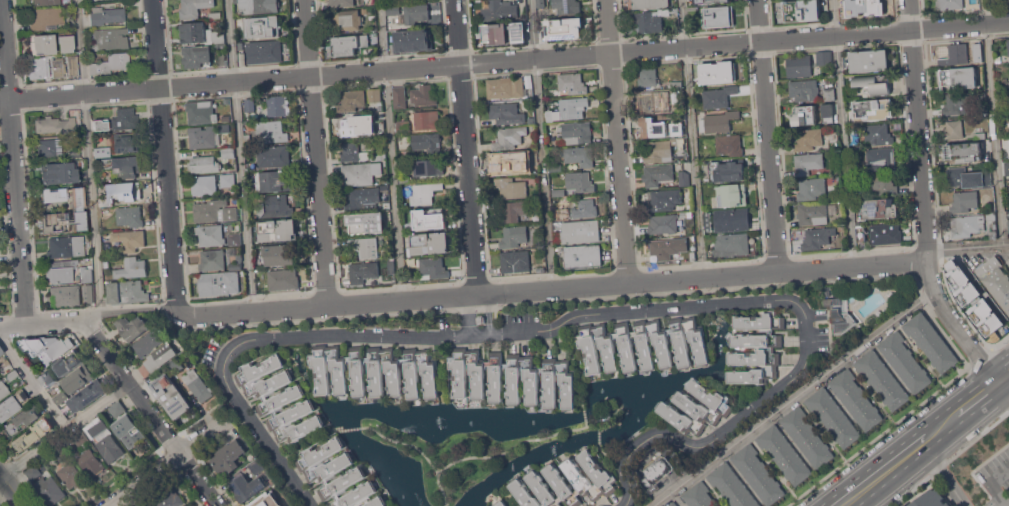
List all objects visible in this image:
building: (710, 1)
building: (1006, 2)
building: (46, 3)
building: (341, 3)
building: (540, 3)
building: (649, 4)
building: (950, 4)
building: (257, 5)
building: (567, 6)
building: (864, 7)
building: (194, 8)
building: (393, 10)
building: (499, 10)
building: (673, 10)
building: (801, 10)
building: (105, 12)
building: (416, 13)
building: (215, 15)
building: (718, 17)
building: (47, 19)
building: (346, 19)
building: (649, 21)
building: (262, 26)
building: (567, 28)
building: (517, 31)
building: (544, 33)
building: (203, 34)
building: (496, 34)
building: (413, 39)
building: (111, 40)
building: (42, 43)
building: (65, 44)
building: (349, 45)
building: (1008, 47)
building: (264, 52)
building: (958, 52)
building: (197, 56)
building: (823, 57)
building: (998, 58)
building: (222, 59)
road: (504, 60)
building: (869, 61)
building: (111, 63)
building: (799, 66)
building: (38, 67)
building: (73, 67)
building: (57, 68)
building: (717, 72)
building: (648, 77)
building: (959, 78)
building: (572, 84)
building: (676, 84)
building: (872, 85)
building: (505, 87)
building: (999, 90)
building: (803, 91)
building: (829, 94)
building: (374, 95)
building: (424, 95)
building: (718, 97)
building: (399, 98)
building: (352, 100)
building: (226, 101)
building: (657, 101)
building: (250, 104)
building: (957, 104)
building: (278, 105)
building: (1002, 105)
building: (572, 108)
building: (875, 109)
building: (201, 112)
building: (827, 113)
building: (507, 114)
building: (549, 115)
building: (804, 116)
building: (226, 117)
building: (124, 118)
building: (427, 119)
building: (720, 122)
road: (992, 122)
building: (55, 124)
building: (100, 124)
building: (358, 126)
building: (403, 127)
building: (652, 127)
building: (223, 128)
building: (954, 130)
building: (272, 132)
road: (842, 133)
building: (575, 134)
building: (878, 134)
building: (979, 135)
road: (766, 136)
building: (853, 136)
building: (202, 137)
road: (693, 138)
building: (246, 139)
building: (508, 139)
building: (808, 140)
building: (126, 141)
road: (615, 141)
building: (427, 142)
road: (541, 144)
building: (729, 144)
building: (365, 145)
building: (50, 147)
road: (464, 147)
building: (664, 148)
road: (390, 149)
road: (315, 152)
building: (964, 152)
building: (75, 153)
building: (101, 153)
building: (358, 153)
building: (227, 154)
road: (239, 154)
road: (164, 155)
building: (273, 155)
road: (89, 156)
building: (579, 157)
building: (879, 159)
road: (12, 161)
building: (509, 164)
building: (808, 164)
building: (204, 165)
building: (988, 165)
building: (1005, 165)
building: (125, 167)
building: (429, 167)
building: (555, 167)
building: (728, 172)
building: (61, 173)
building: (361, 173)
building: (657, 175)
building: (684, 178)
building: (968, 178)
building: (404, 179)
building: (861, 179)
building: (228, 180)
building: (276, 182)
building: (883, 182)
building: (580, 183)
building: (203, 186)
building: (384, 188)
building: (511, 188)
building: (811, 189)
building: (128, 192)
building: (558, 192)
building: (425, 194)
building: (732, 195)
building: (54, 196)
building: (78, 197)
building: (362, 199)
building: (536, 199)
building: (664, 200)
road: (922, 200)
building: (105, 202)
building: (964, 202)
building: (383, 203)
building: (274, 206)
building: (879, 209)
building: (579, 210)
building: (514, 211)
building: (214, 212)
building: (685, 214)
building: (812, 214)
building: (130, 216)
building: (991, 216)
building: (731, 219)
building: (63, 221)
building: (428, 221)
building: (366, 223)
building: (664, 223)
building: (1008, 225)
building: (966, 226)
building: (538, 227)
building: (278, 230)
building: (708, 230)
building: (578, 232)
building: (993, 233)
building: (886, 234)
building: (210, 235)
building: (861, 235)
building: (513, 237)
building: (708, 237)
building: (818, 238)
building: (234, 239)
building: (130, 240)
building: (430, 244)
building: (731, 245)
building: (66, 246)
building: (365, 246)
road: (966, 247)
building: (664, 248)
building: (230, 251)
building: (277, 254)
building: (582, 257)
building: (212, 261)
building: (1008, 261)
building: (515, 262)
building: (236, 263)
building: (390, 266)
building: (433, 268)
building: (132, 269)
building: (540, 269)
building: (60, 271)
building: (362, 272)
building: (86, 273)
building: (283, 279)
building: (996, 280)
road: (627, 282)
building: (219, 284)
building: (127, 292)
building: (88, 293)
building: (65, 295)
building: (980, 302)
road: (251, 309)
road: (138, 310)
road: (490, 314)
road: (583, 314)
building: (840, 314)
road: (467, 315)
road: (92, 316)
road: (42, 322)
building: (132, 327)
road: (944, 333)
road: (1000, 341)
building: (930, 342)
building: (147, 344)
building: (643, 344)
building: (49, 345)
building: (755, 349)
building: (1, 351)
building: (161, 356)
road: (980, 357)
building: (4, 360)
road: (577, 361)
building: (904, 361)
building: (69, 362)
building: (175, 365)
building: (164, 371)
building: (373, 371)
building: (12, 374)
road: (1003, 375)
building: (513, 377)
building: (46, 378)
building: (78, 379)
building: (882, 379)
road: (32, 382)
building: (198, 385)
building: (3, 389)
building: (57, 394)
building: (86, 395)
building: (172, 396)
road: (976, 397)
road: (793, 398)
building: (279, 399)
building: (856, 399)
building: (12, 404)
building: (118, 408)
building: (696, 408)
road: (148, 413)
road: (583, 413)
building: (604, 416)
building: (833, 416)
building: (20, 421)
road: (595, 423)
road: (584, 425)
road: (942, 425)
road: (347, 428)
road: (63, 429)
building: (129, 432)
building: (32, 435)
building: (807, 436)
road: (877, 436)
road: (597, 437)
building: (80, 438)
building: (104, 439)
road: (403, 442)
road: (305, 446)
park: (471, 450)
building: (61, 451)
road: (501, 452)
building: (784, 454)
road: (610, 455)
building: (228, 458)
road: (949, 458)
building: (90, 461)
road: (161, 464)
building: (257, 465)
road: (884, 470)
building: (320, 471)
building: (658, 471)
building: (33, 472)
building: (758, 474)
road: (942, 474)
building: (70, 475)
parking lot: (994, 476)
building: (566, 483)
road: (995, 483)
building: (731, 486)
building: (248, 488)
building: (655, 488)
road: (11, 489)
building: (51, 489)
building: (699, 496)
building: (169, 499)
building: (931, 499)
building: (265, 500)
road: (121, 501)
building: (285, 503)
building: (501, 503)
building: (673, 504)
building: (905, 505)

